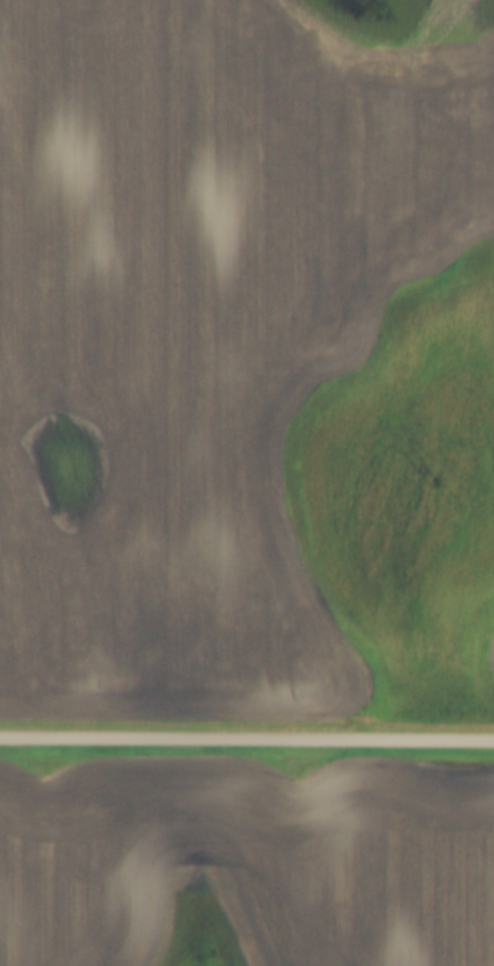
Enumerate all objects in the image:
road: (247, 741)

